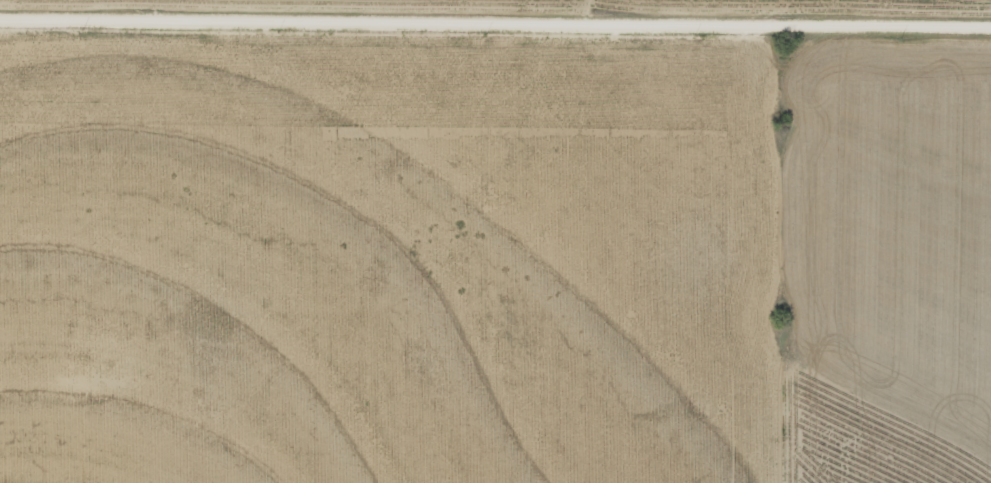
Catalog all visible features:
road: (604, 15)
road: (495, 29)

